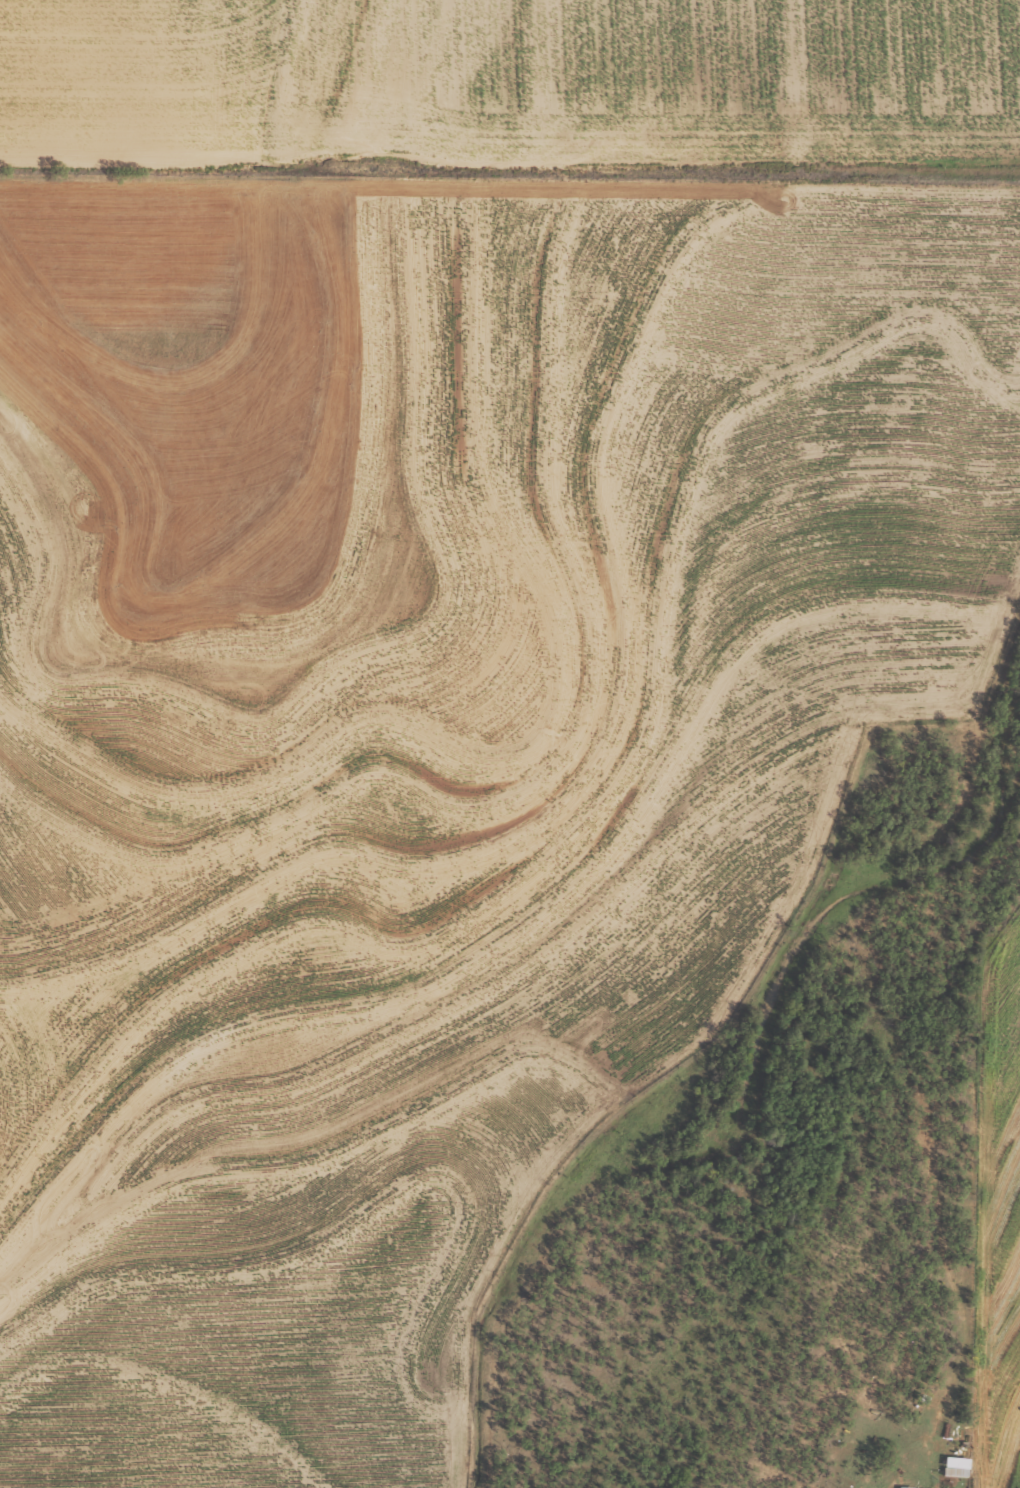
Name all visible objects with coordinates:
building: (960, 1472)
building: (908, 1487)

